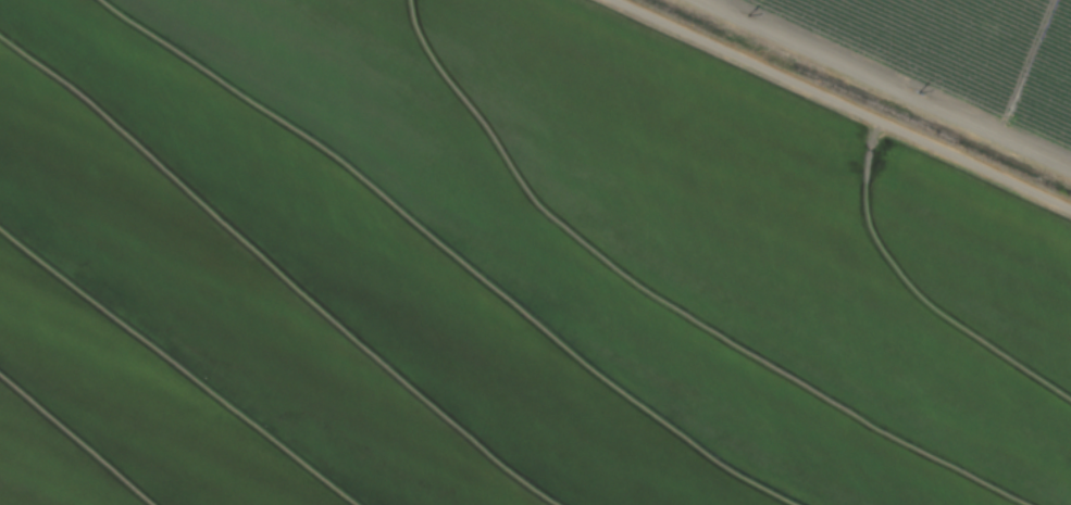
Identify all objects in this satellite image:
crop: (535, 252)

